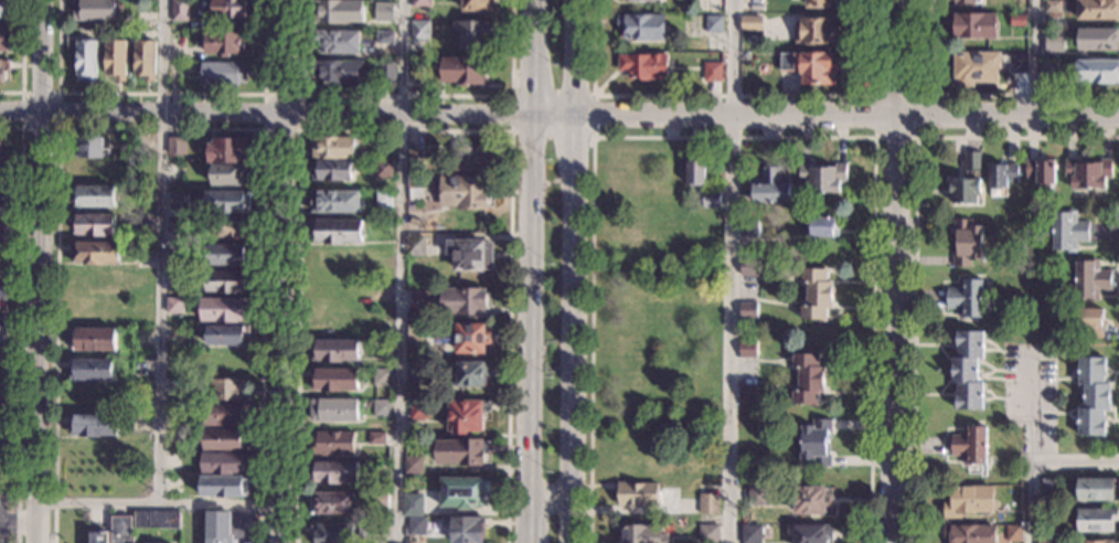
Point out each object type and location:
building: (639, 0)
building: (969, 1)
building: (116, 2)
building: (420, 3)
building: (818, 3)
building: (478, 6)
building: (1057, 7)
building: (3, 8)
building: (232, 9)
building: (385, 9)
building: (93, 10)
building: (1098, 10)
building: (180, 11)
building: (338, 12)
building: (1017, 20)
building: (145, 24)
building: (714, 24)
building: (752, 24)
building: (972, 25)
building: (642, 28)
building: (419, 31)
building: (814, 31)
building: (476, 34)
building: (385, 38)
building: (4, 39)
building: (1098, 40)
building: (178, 41)
building: (337, 42)
building: (222, 43)
building: (1053, 49)
road: (1036, 55)
building: (745, 56)
road: (22, 57)
building: (116, 60)
building: (145, 60)
building: (86, 61)
building: (1020, 64)
building: (644, 66)
building: (810, 67)
building: (976, 67)
building: (188, 68)
building: (416, 68)
building: (386, 71)
building: (463, 71)
building: (1, 72)
building: (338, 72)
building: (1097, 72)
building: (713, 73)
building: (223, 74)
building: (1049, 74)
road: (58, 94)
road: (162, 95)
road: (726, 95)
road: (976, 95)
road: (301, 96)
road: (405, 96)
road: (558, 111)
road: (868, 123)
road: (159, 129)
road: (405, 131)
road: (593, 134)
road: (733, 137)
building: (174, 146)
building: (382, 147)
building: (89, 148)
building: (333, 148)
building: (227, 150)
building: (3, 156)
building: (416, 159)
building: (469, 160)
building: (972, 161)
building: (383, 170)
building: (331, 171)
building: (695, 172)
building: (1041, 172)
building: (3, 173)
building: (231, 174)
building: (1087, 174)
building: (1001, 175)
building: (822, 179)
building: (414, 187)
building: (770, 187)
building: (963, 191)
building: (466, 192)
building: (94, 198)
building: (384, 199)
building: (711, 200)
building: (2, 201)
building: (177, 201)
building: (227, 202)
building: (335, 202)
building: (143, 223)
building: (93, 225)
building: (175, 225)
building: (230, 227)
building: (821, 227)
building: (749, 228)
building: (1068, 231)
building: (337, 232)
building: (1, 238)
road: (915, 238)
building: (967, 243)
building: (415, 246)
road: (530, 248)
road: (577, 248)
road: (160, 252)
building: (95, 253)
building: (175, 253)
building: (226, 254)
building: (470, 255)
building: (748, 267)
road: (39, 270)
road: (283, 270)
road: (401, 270)
road: (732, 270)
road: (895, 270)
building: (1090, 279)
building: (227, 281)
building: (2, 294)
building: (419, 294)
building: (817, 294)
building: (966, 298)
building: (461, 302)
building: (174, 307)
building: (224, 309)
building: (748, 311)
building: (3, 322)
building: (1090, 322)
road: (19, 324)
building: (416, 332)
building: (174, 334)
building: (227, 336)
building: (461, 337)
building: (92, 340)
building: (747, 349)
building: (382, 350)
building: (337, 351)
building: (174, 361)
building: (228, 362)
building: (90, 370)
building: (967, 371)
building: (415, 374)
building: (468, 374)
building: (382, 377)
building: (335, 380)
building: (808, 380)
building: (173, 383)
building: (228, 388)
building: (747, 393)
building: (1093, 397)
building: (0, 405)
building: (381, 408)
building: (333, 411)
building: (418, 411)
building: (226, 415)
building: (466, 416)
building: (93, 426)
building: (376, 438)
building: (225, 441)
building: (817, 443)
building: (332, 444)
building: (970, 445)
road: (1031, 446)
building: (461, 451)
building: (223, 464)
road: (1075, 464)
building: (413, 466)
building: (334, 472)
building: (223, 487)
building: (1049, 487)
building: (1097, 489)
building: (463, 492)
building: (637, 494)
building: (758, 496)
road: (550, 498)
building: (381, 499)
building: (810, 500)
building: (969, 501)
road: (158, 503)
building: (332, 503)
building: (413, 504)
building: (708, 504)
road: (527, 505)
parking lot: (2, 518)
building: (1047, 518)
building: (157, 519)
road: (572, 521)
building: (1097, 521)
road: (19, 523)
building: (416, 526)
building: (219, 528)
road: (526, 529)
building: (120, 530)
building: (466, 530)
building: (332, 533)
building: (752, 533)
building: (810, 533)
building: (970, 533)
building: (1014, 533)
building: (641, 534)
building: (710, 534)
building: (98, 537)
building: (1046, 542)
building: (1094, 542)

